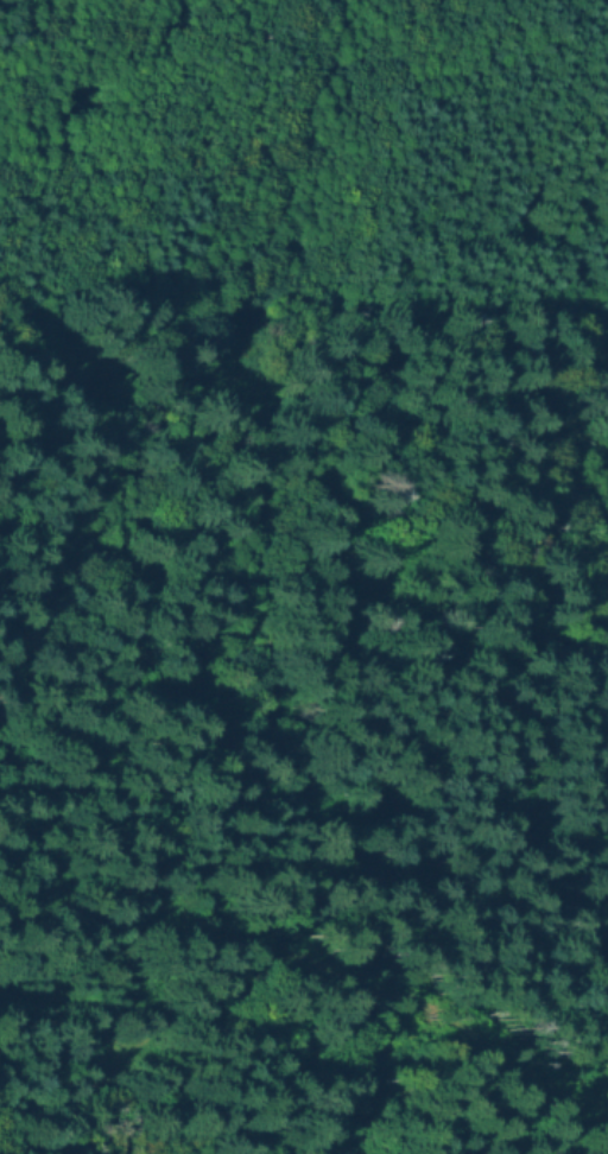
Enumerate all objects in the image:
road: (203, 121)

